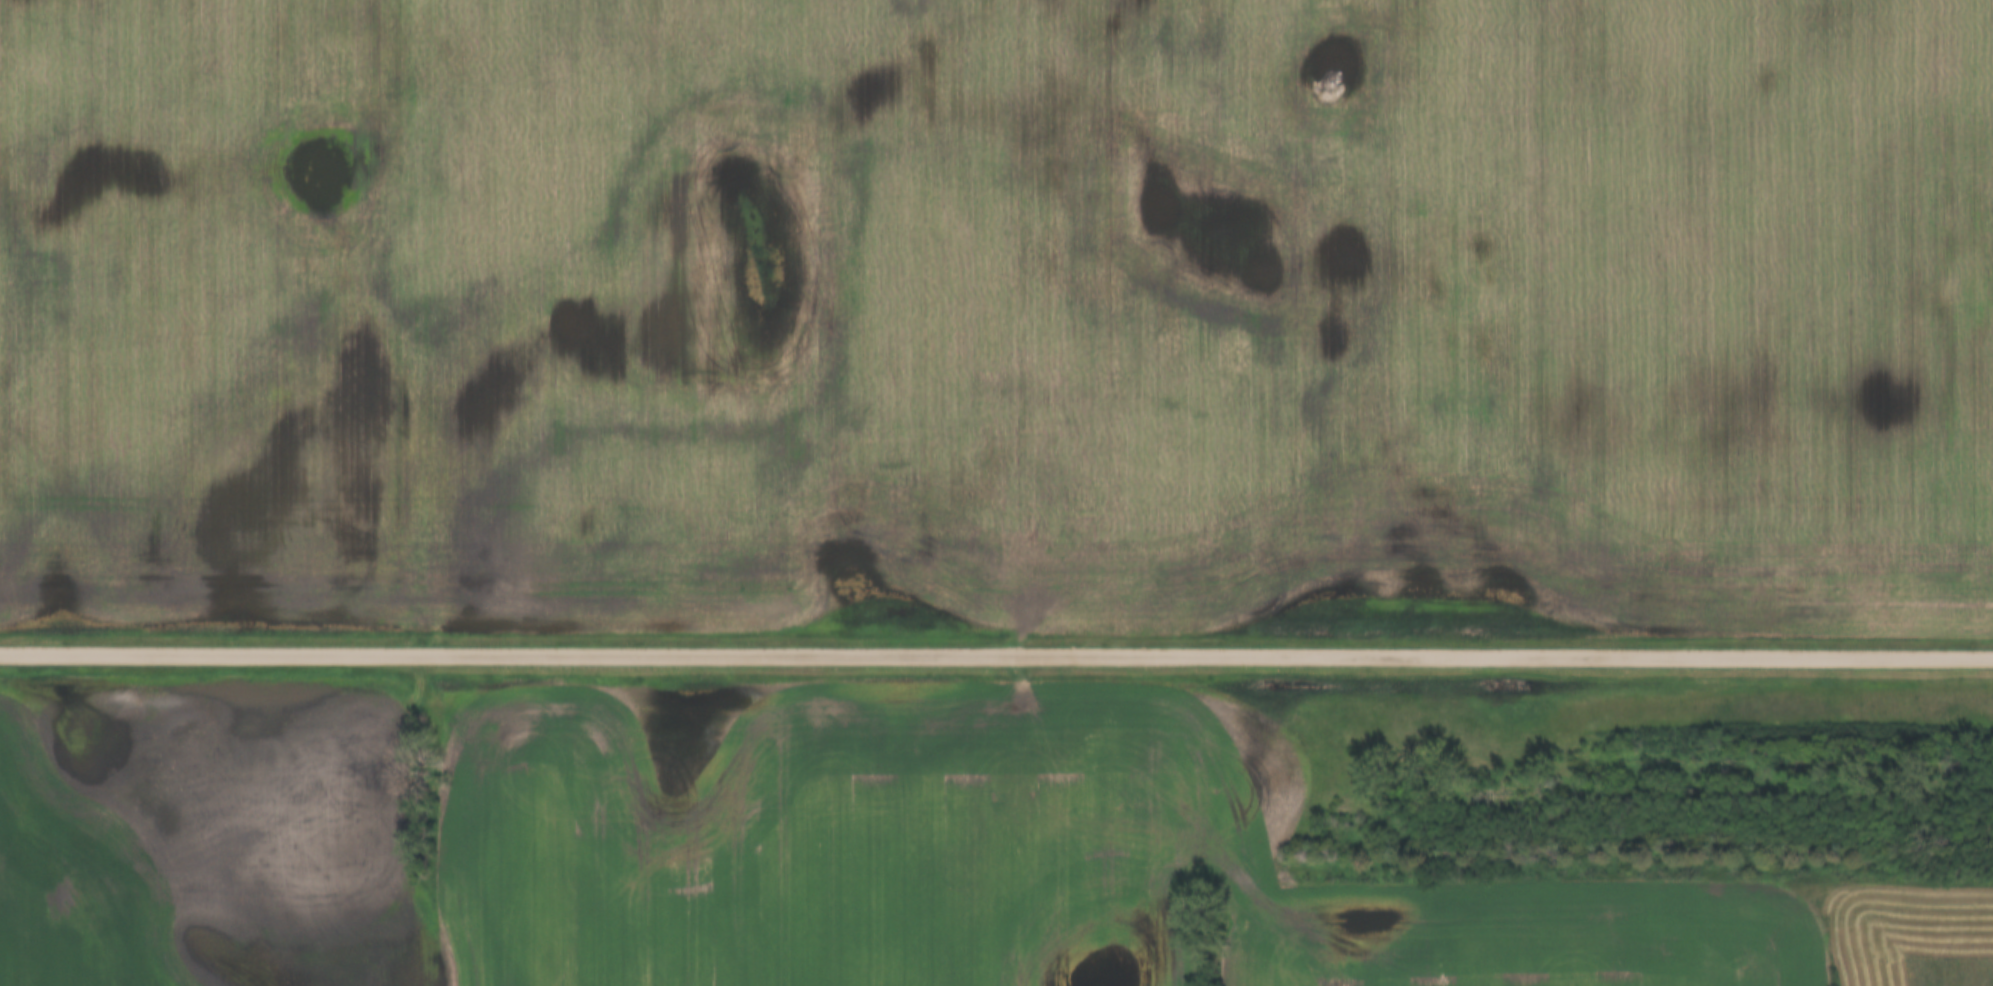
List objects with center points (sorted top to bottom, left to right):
road: (996, 653)

